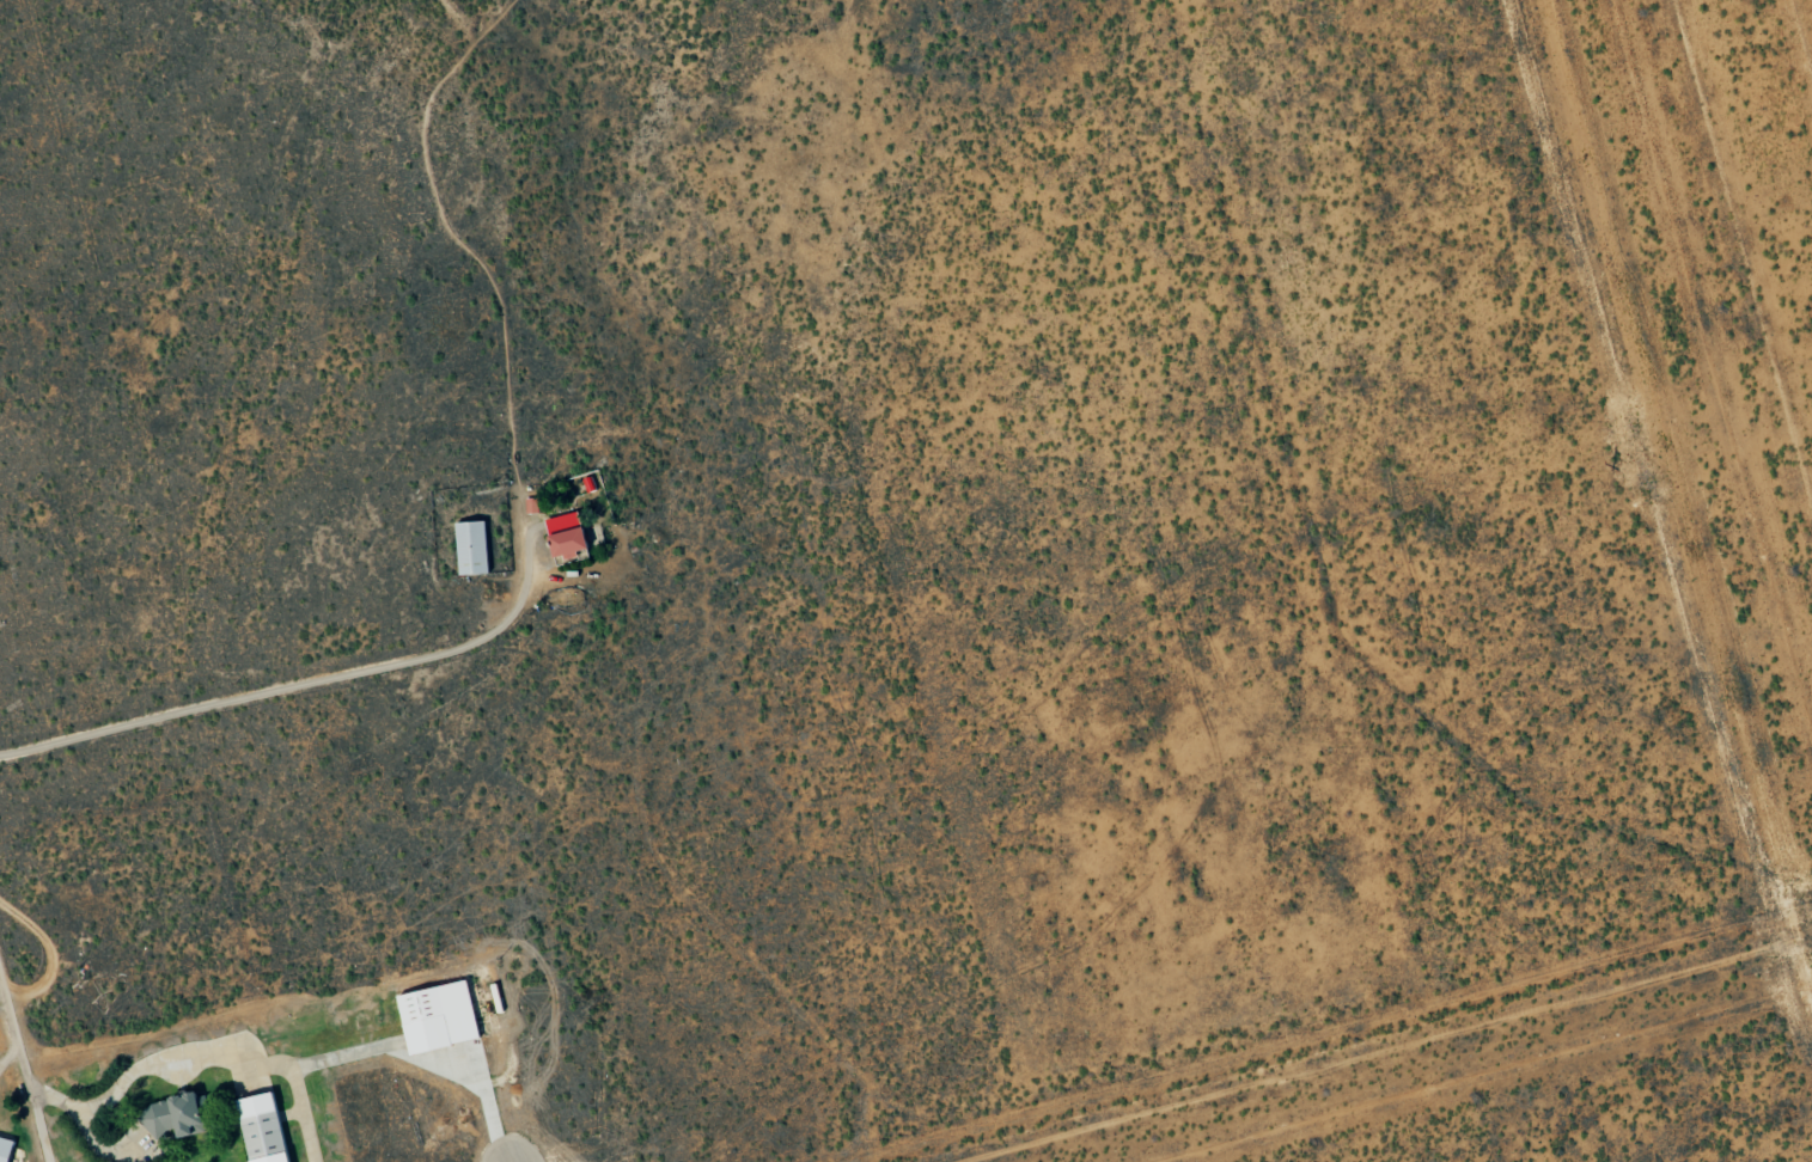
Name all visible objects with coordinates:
building: (532, 504)
building: (573, 543)
building: (474, 548)
road: (294, 689)
building: (440, 1016)
road: (22, 1074)
airport: (12, 1115)
building: (176, 1115)
building: (264, 1129)
building: (6, 1149)

